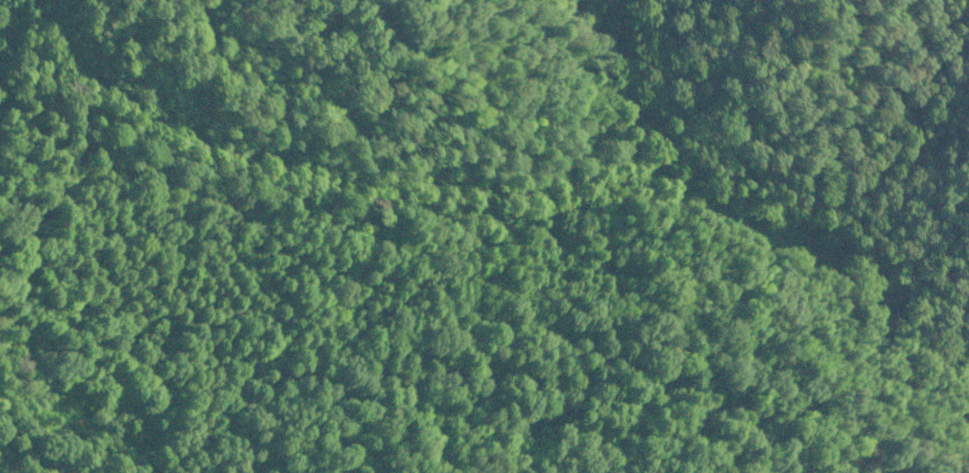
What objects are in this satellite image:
road: (835, 272)

